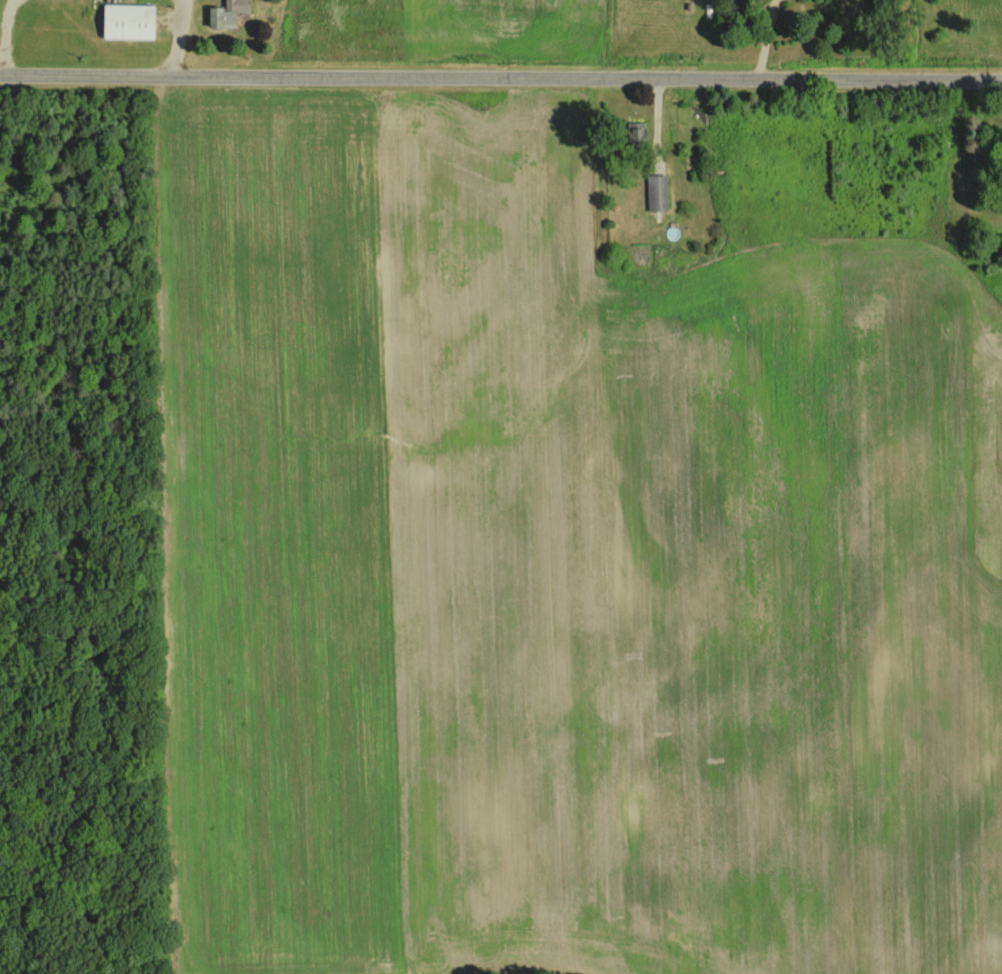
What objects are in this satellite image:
building: (224, 12)
building: (126, 20)
road: (2, 37)
road: (177, 39)
road: (500, 80)
building: (634, 131)
building: (656, 191)

